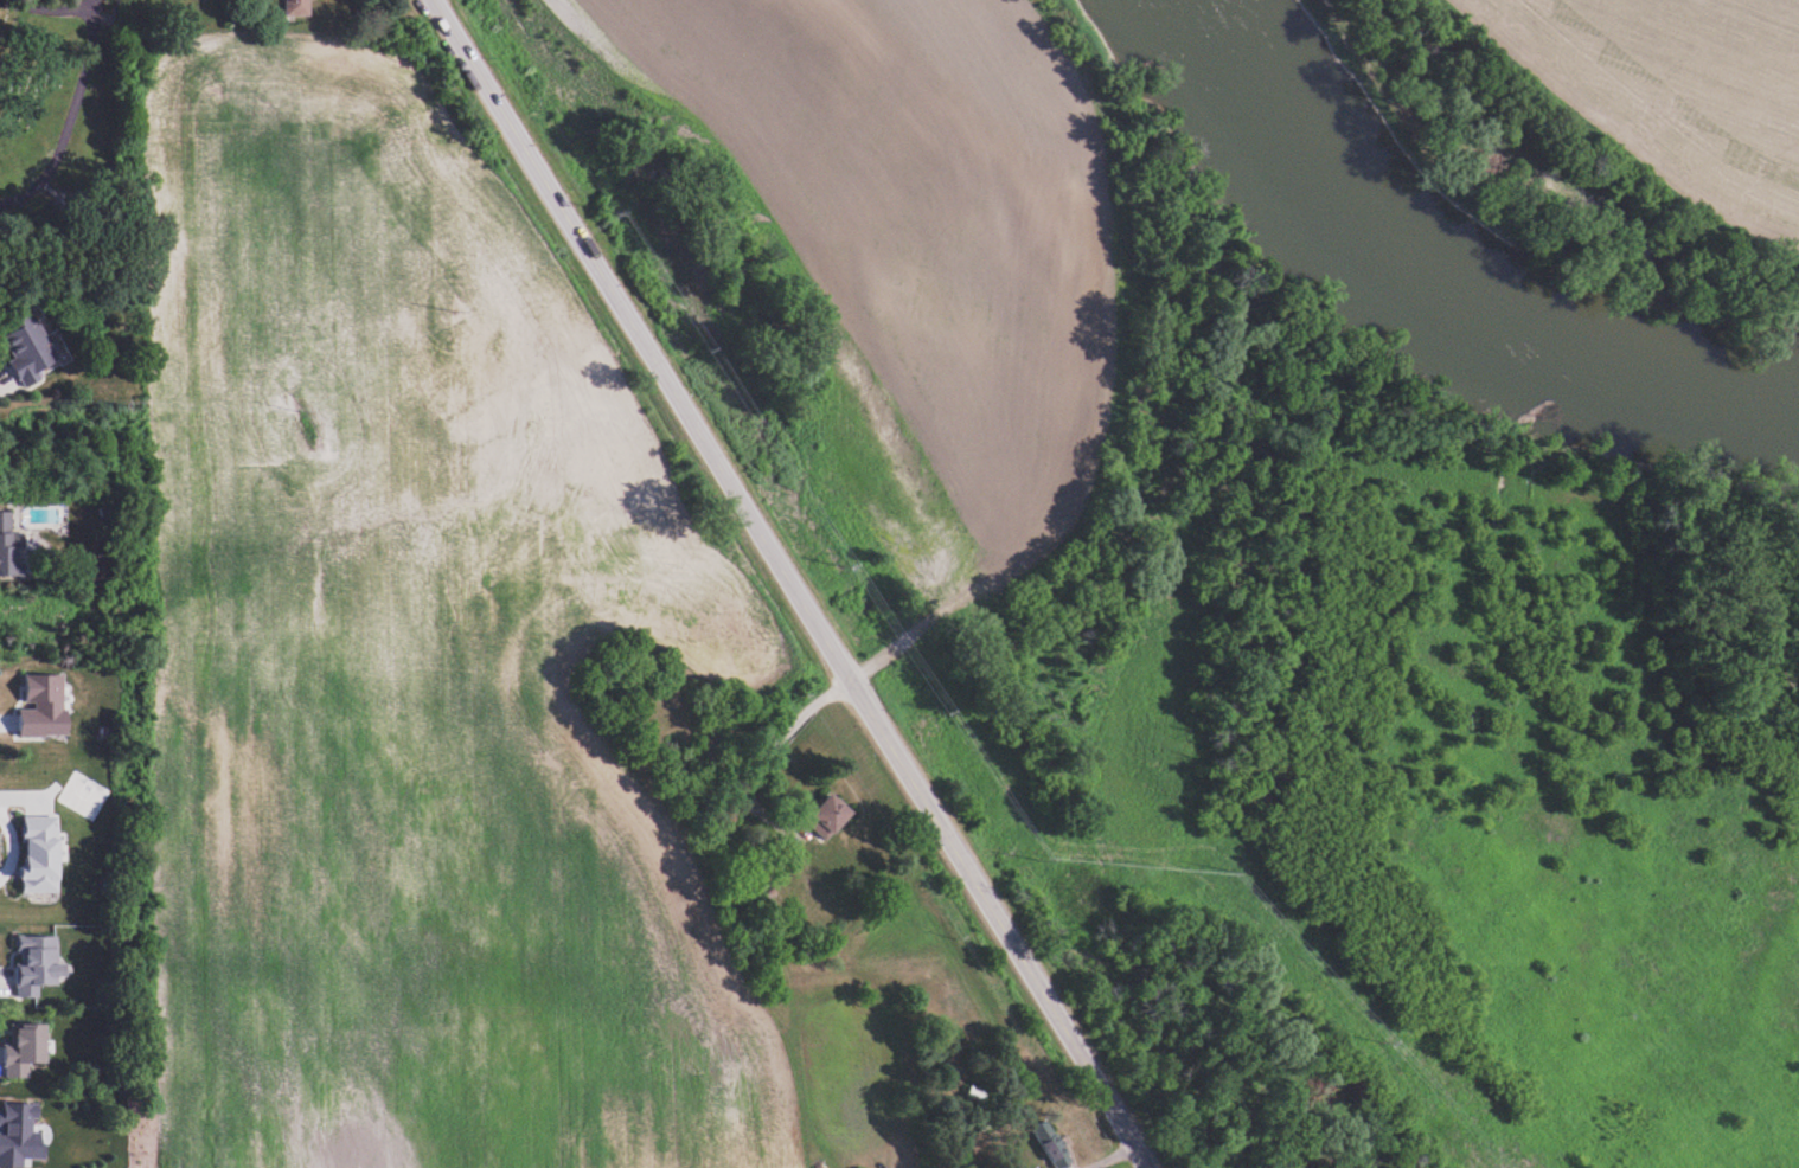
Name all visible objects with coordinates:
building: (300, 7)
road: (45, 9)
park: (63, 116)
road: (71, 116)
park: (1632, 127)
river: (1442, 291)
building: (27, 347)
building: (11, 548)
road: (782, 575)
road: (779, 742)
building: (831, 815)
building: (1056, 1148)
road: (1138, 1159)

